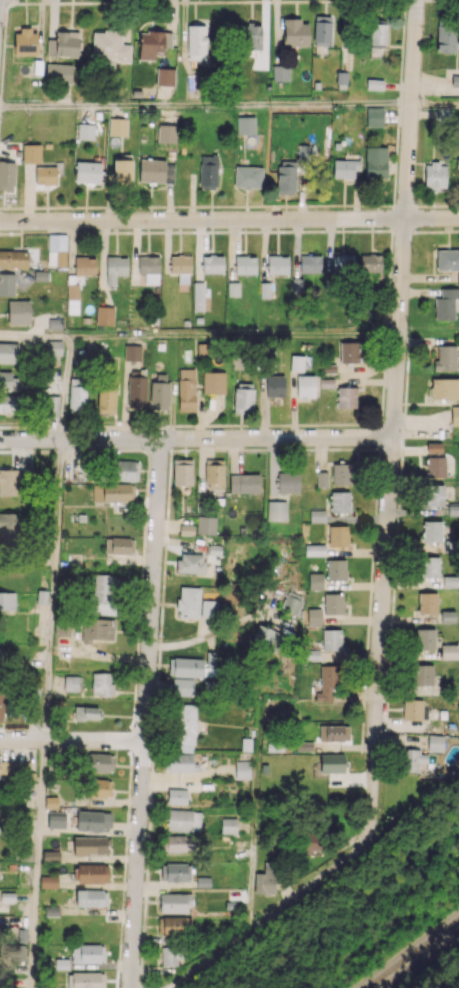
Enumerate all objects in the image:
building: (322, 30)
building: (295, 32)
building: (377, 33)
building: (446, 37)
building: (250, 39)
building: (25, 42)
building: (196, 42)
building: (153, 43)
building: (64, 44)
building: (109, 46)
building: (58, 72)
building: (280, 72)
building: (164, 76)
building: (341, 80)
building: (374, 84)
road: (435, 102)
road: (205, 105)
building: (374, 116)
building: (245, 125)
building: (117, 126)
building: (85, 131)
building: (166, 133)
building: (302, 152)
building: (31, 153)
building: (376, 162)
building: (457, 162)
building: (345, 168)
building: (88, 171)
building: (122, 171)
building: (156, 171)
building: (208, 171)
building: (7, 175)
building: (45, 175)
building: (435, 175)
building: (286, 176)
building: (248, 177)
road: (229, 219)
building: (56, 249)
building: (13, 258)
building: (447, 259)
building: (370, 262)
building: (212, 263)
building: (310, 263)
building: (342, 263)
building: (245, 264)
building: (277, 264)
building: (84, 265)
building: (180, 267)
building: (115, 268)
building: (149, 268)
building: (458, 278)
building: (7, 284)
building: (233, 289)
building: (198, 296)
building: (72, 298)
building: (445, 303)
building: (18, 312)
building: (104, 315)
road: (233, 334)
road: (35, 336)
building: (53, 347)
building: (349, 351)
building: (9, 352)
building: (132, 352)
building: (445, 358)
building: (296, 363)
building: (8, 380)
building: (213, 381)
building: (275, 385)
building: (305, 385)
road: (66, 388)
building: (444, 388)
building: (186, 389)
building: (159, 390)
building: (136, 392)
building: (77, 395)
building: (243, 396)
building: (346, 397)
building: (105, 400)
building: (10, 403)
building: (52, 405)
building: (455, 415)
road: (393, 417)
road: (196, 437)
building: (435, 460)
building: (123, 470)
building: (182, 472)
building: (342, 473)
building: (214, 474)
building: (322, 479)
building: (9, 482)
building: (287, 482)
building: (244, 483)
building: (117, 492)
building: (433, 495)
building: (340, 501)
building: (276, 510)
building: (317, 515)
building: (8, 523)
building: (205, 525)
building: (186, 529)
building: (431, 531)
building: (338, 535)
building: (118, 545)
building: (315, 550)
building: (190, 563)
building: (429, 566)
building: (336, 569)
building: (315, 581)
building: (450, 581)
building: (102, 595)
building: (7, 601)
building: (188, 601)
building: (292, 602)
building: (427, 602)
building: (334, 603)
building: (209, 608)
building: (314, 616)
building: (448, 616)
building: (61, 625)
building: (96, 629)
building: (266, 637)
road: (199, 638)
building: (425, 638)
building: (331, 640)
building: (449, 651)
building: (2, 658)
building: (185, 667)
building: (423, 674)
building: (327, 682)
building: (70, 683)
building: (101, 683)
building: (182, 686)
building: (1, 705)
building: (412, 709)
building: (87, 712)
road: (46, 713)
road: (145, 713)
building: (185, 728)
building: (333, 732)
road: (72, 741)
building: (435, 742)
building: (411, 759)
building: (100, 762)
building: (179, 762)
building: (332, 763)
building: (3, 768)
building: (242, 769)
building: (98, 788)
building: (176, 796)
building: (93, 820)
building: (183, 820)
building: (56, 821)
building: (228, 825)
building: (310, 841)
building: (180, 843)
building: (90, 845)
building: (51, 855)
building: (175, 872)
building: (91, 873)
building: (48, 881)
building: (265, 881)
building: (91, 897)
building: (174, 902)
road: (274, 915)
building: (174, 925)
building: (87, 953)
railway: (414, 954)
building: (172, 955)
railway: (422, 961)
building: (85, 980)

